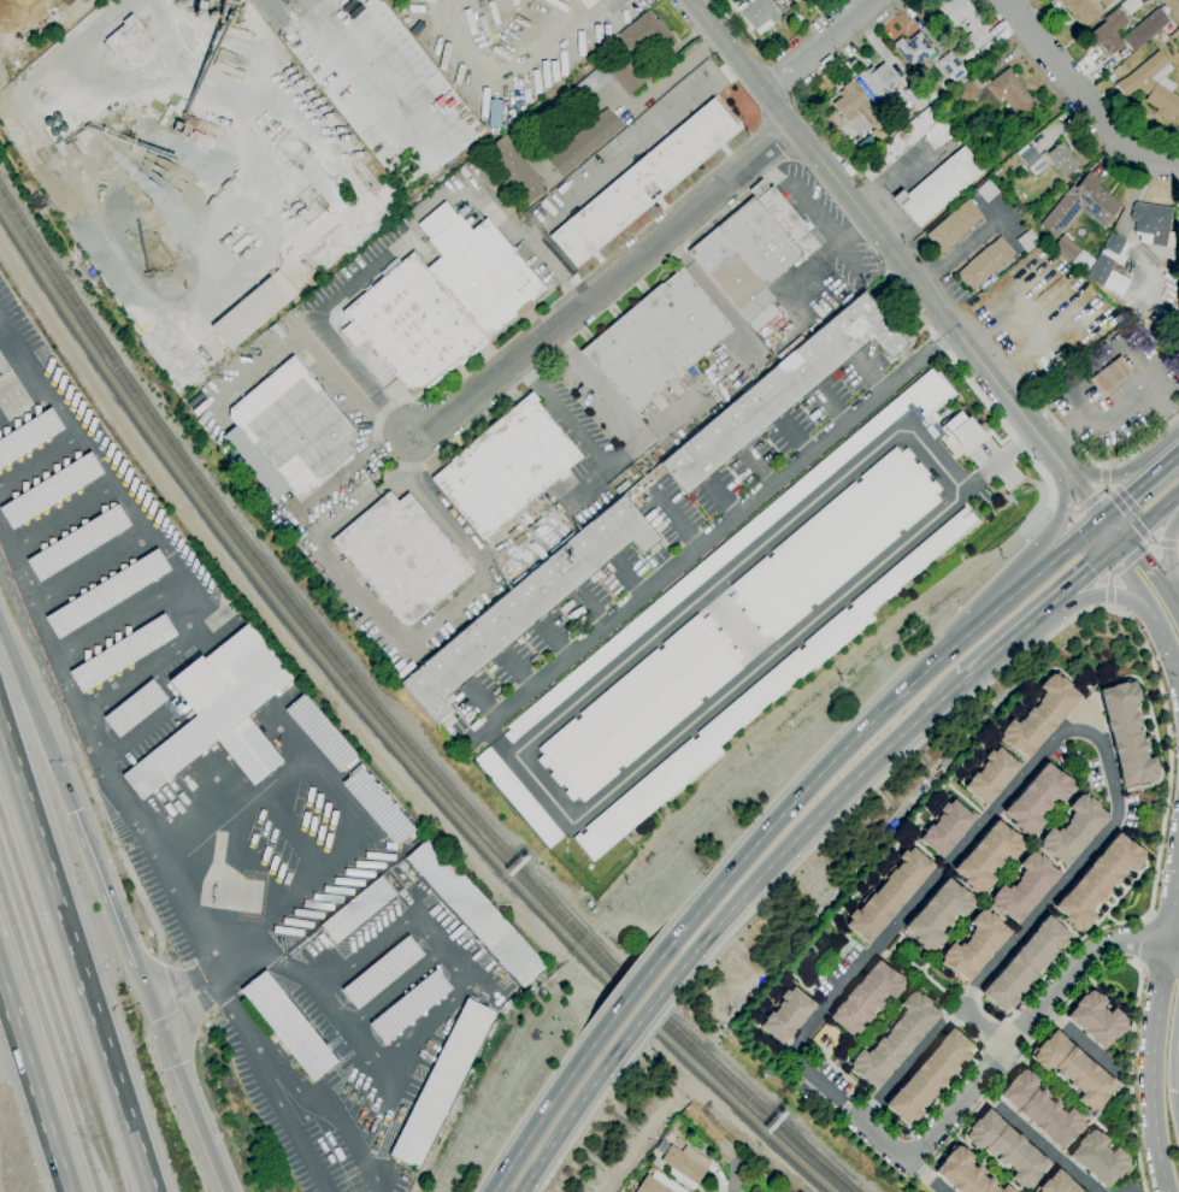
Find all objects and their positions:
building: (772, 0)
building: (789, 1)
building: (586, 2)
building: (1130, 6)
building: (1084, 10)
building: (269, 13)
building: (757, 14)
building: (974, 25)
road: (94, 28)
building: (1144, 29)
building: (1107, 33)
building: (645, 34)
building: (1160, 35)
building: (125, 39)
road: (817, 45)
building: (762, 51)
building: (914, 51)
building: (986, 51)
building: (225, 63)
building: (948, 63)
road: (674, 73)
building: (627, 75)
building: (1109, 77)
building: (951, 78)
building: (878, 81)
building: (589, 85)
building: (1153, 85)
building: (996, 93)
road: (1081, 94)
building: (914, 95)
building: (860, 113)
railway: (17, 120)
building: (904, 142)
building: (583, 143)
building: (1028, 157)
building: (1061, 160)
building: (514, 169)
building: (1020, 169)
building: (310, 172)
road: (596, 172)
building: (995, 172)
building: (642, 181)
building: (938, 187)
building: (986, 190)
building: (330, 196)
building: (1080, 205)
building: (506, 210)
building: (1178, 211)
building: (462, 212)
building: (1150, 223)
building: (954, 225)
building: (1027, 241)
building: (1065, 247)
building: (753, 249)
building: (1083, 261)
building: (985, 262)
building: (1109, 265)
road: (906, 270)
road: (356, 273)
road: (606, 284)
road: (711, 293)
building: (441, 303)
building: (253, 309)
building: (656, 340)
road: (1112, 341)
road: (312, 353)
road: (25, 358)
building: (1110, 377)
road: (973, 388)
building: (780, 390)
road: (1073, 399)
building: (193, 400)
parking lot: (1119, 406)
road: (1120, 411)
building: (965, 430)
road: (1068, 432)
building: (288, 433)
building: (28, 435)
road: (626, 449)
road: (39, 455)
road: (359, 458)
road: (996, 460)
road: (1113, 462)
road: (1173, 462)
building: (505, 467)
road: (1104, 467)
road: (1106, 476)
building: (48, 490)
road: (1134, 495)
road: (1087, 502)
road: (1062, 511)
road: (63, 514)
road: (1149, 521)
traffic signals: (1103, 524)
road: (1136, 525)
road: (713, 537)
traffic signals: (1118, 541)
building: (76, 542)
building: (832, 542)
road: (1171, 542)
road: (1177, 543)
building: (735, 544)
road: (159, 547)
building: (401, 556)
road: (90, 566)
road: (1118, 567)
road: (1128, 572)
road: (1153, 574)
road: (626, 579)
building: (105, 594)
road: (1100, 595)
building: (524, 606)
road: (1107, 606)
road: (1037, 608)
road: (589, 610)
road: (735, 626)
road: (413, 633)
road: (553, 641)
road: (1165, 641)
road: (170, 650)
building: (119, 653)
road: (517, 671)
road: (481, 702)
building: (753, 702)
building: (637, 707)
building: (132, 708)
building: (218, 712)
building: (1039, 715)
road: (37, 719)
railway: (389, 720)
road: (1081, 728)
road: (1161, 730)
railway: (381, 731)
road: (857, 731)
building: (318, 733)
building: (1126, 733)
road: (132, 736)
road: (285, 736)
road: (497, 743)
road: (512, 756)
building: (991, 775)
road: (93, 785)
building: (515, 796)
building: (1036, 798)
road: (123, 799)
building: (376, 806)
road: (229, 808)
building: (1146, 815)
road: (804, 826)
building: (947, 827)
road: (291, 828)
building: (1073, 830)
building: (988, 856)
road: (252, 861)
building: (1098, 881)
building: (1024, 887)
road: (299, 892)
building: (889, 895)
building: (589, 904)
building: (356, 910)
building: (474, 911)
building: (938, 914)
road: (114, 915)
road: (1163, 919)
road: (1175, 923)
road: (379, 937)
road: (1143, 939)
building: (974, 945)
road: (76, 952)
road: (1157, 963)
building: (1026, 964)
building: (381, 972)
road: (393, 989)
road: (631, 991)
building: (865, 997)
railway: (61, 998)
building: (515, 998)
road: (326, 1005)
building: (407, 1007)
road: (648, 1008)
building: (786, 1015)
road: (437, 1016)
railway: (55, 1017)
road: (660, 1019)
building: (1096, 1020)
road: (1032, 1022)
road: (985, 1025)
building: (288, 1026)
railway: (49, 1034)
building: (895, 1039)
road: (1080, 1040)
road: (1155, 1067)
building: (1074, 1069)
building: (929, 1076)
road: (279, 1078)
road: (1131, 1078)
building: (441, 1084)
road: (33, 1086)
road: (552, 1099)
road: (187, 1107)
road: (573, 1108)
building: (1041, 1109)
road: (588, 1113)
road: (889, 1138)
road: (1034, 1138)
building: (678, 1143)
building: (1007, 1149)
building: (1098, 1157)
building: (747, 1162)
building: (685, 1166)
building: (963, 1173)
road: (932, 1176)
building: (656, 1184)
building: (1057, 1184)

